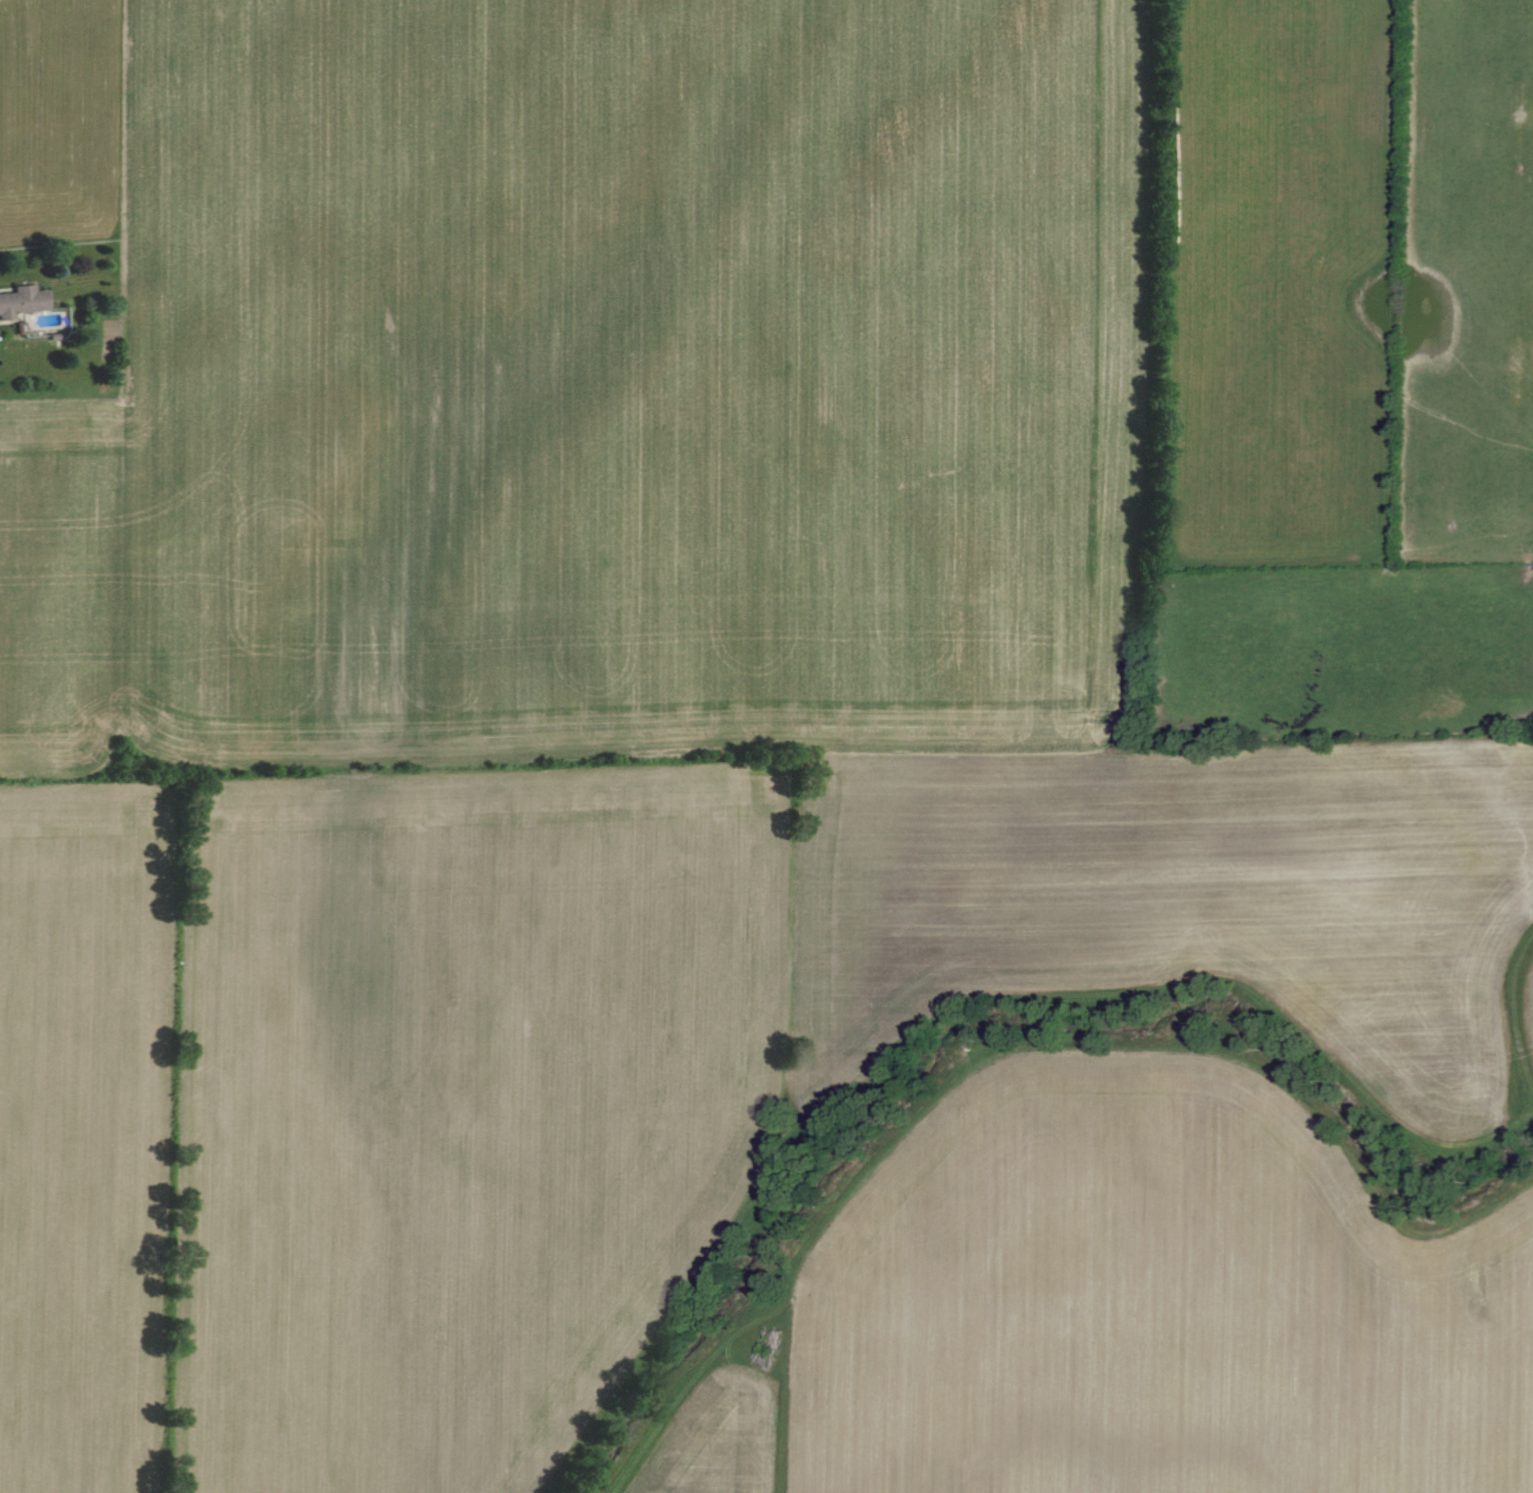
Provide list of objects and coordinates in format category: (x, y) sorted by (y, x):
building: (21, 300)

